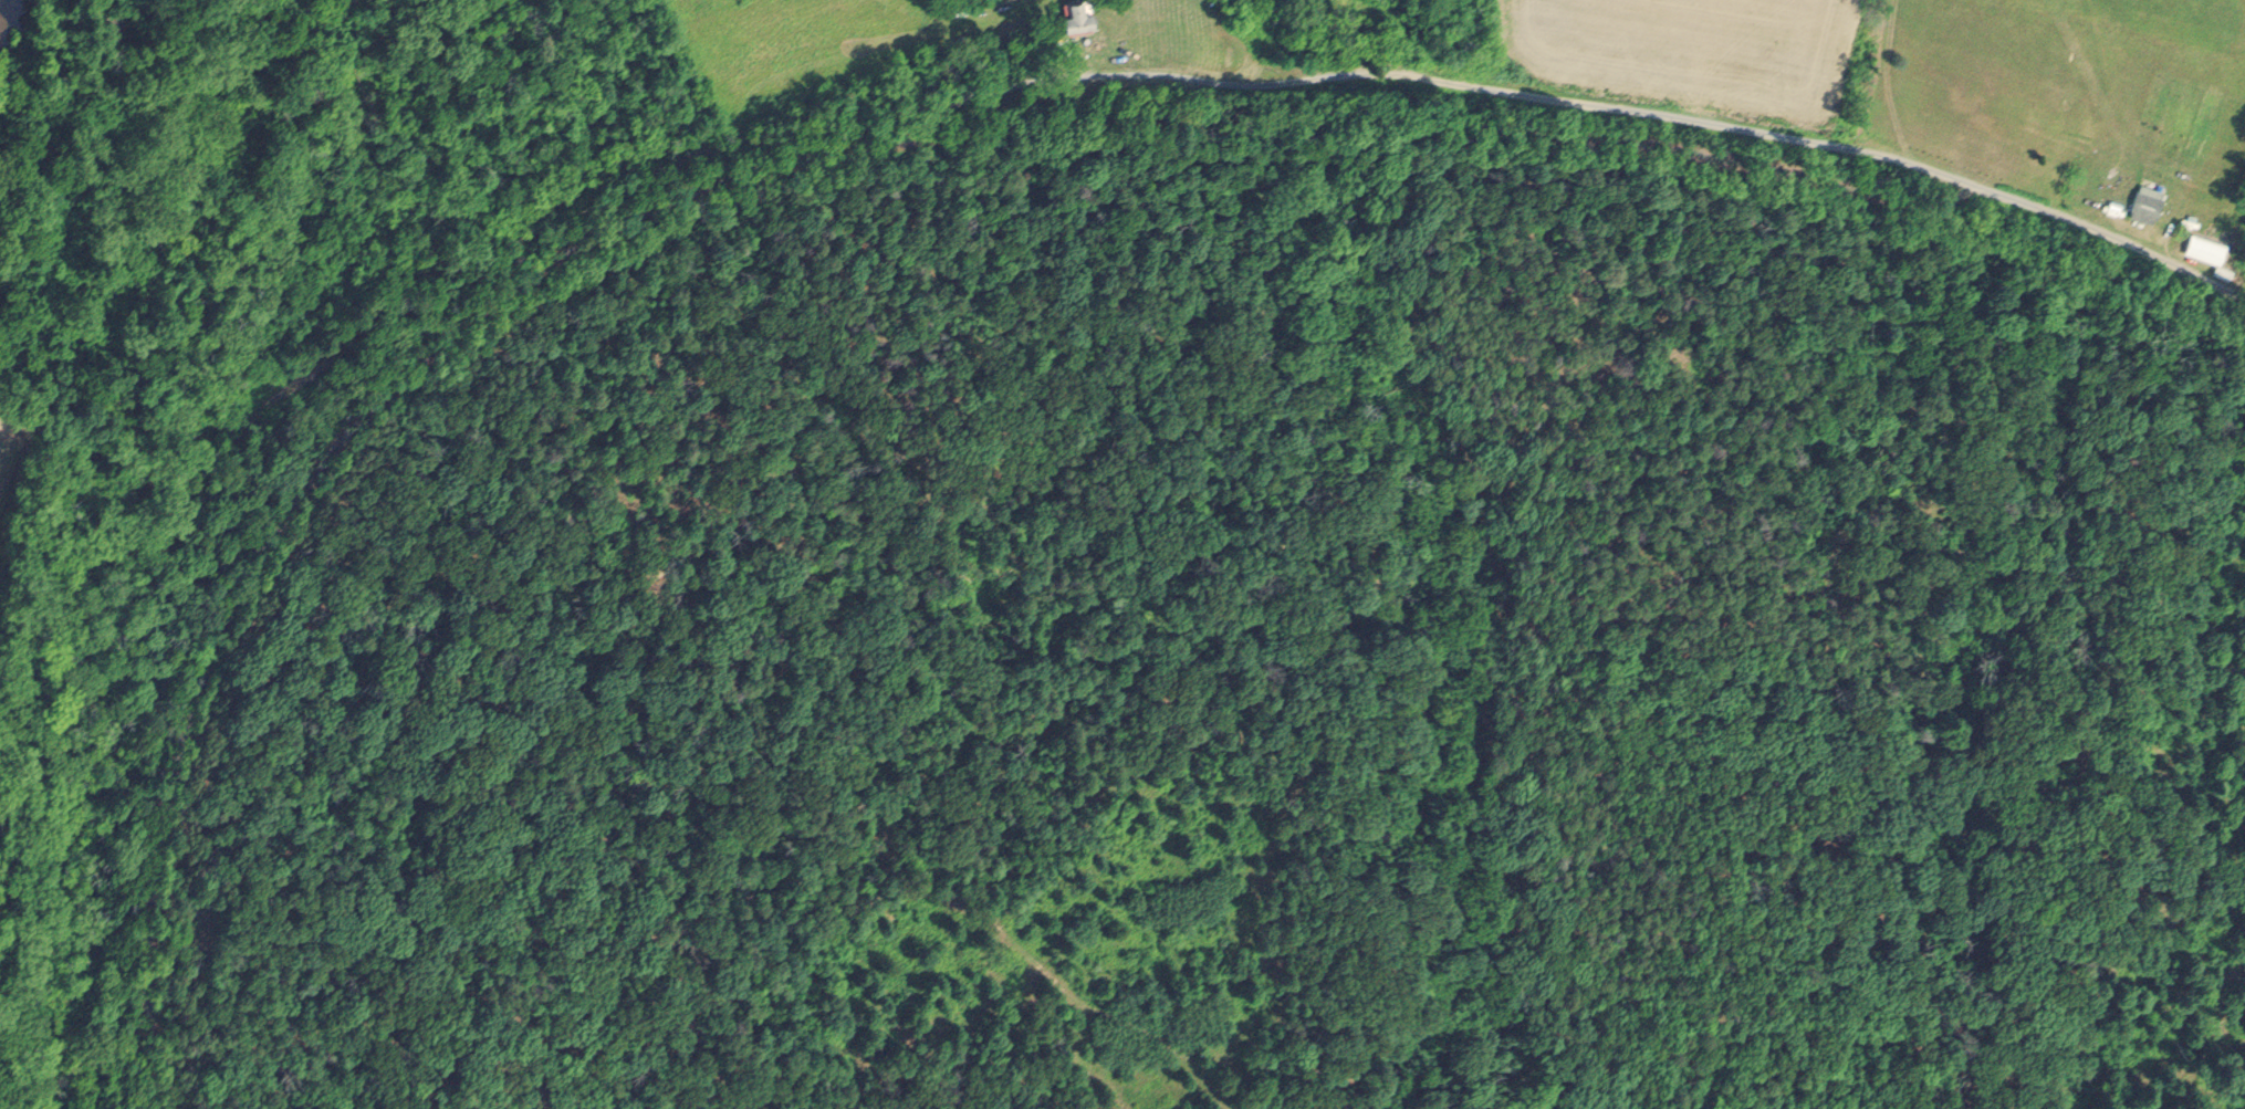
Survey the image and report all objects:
building: (1076, 17)
road: (994, 96)
road: (1690, 127)
road: (858, 134)
building: (2145, 205)
road: (583, 217)
building: (2207, 253)
road: (303, 493)

